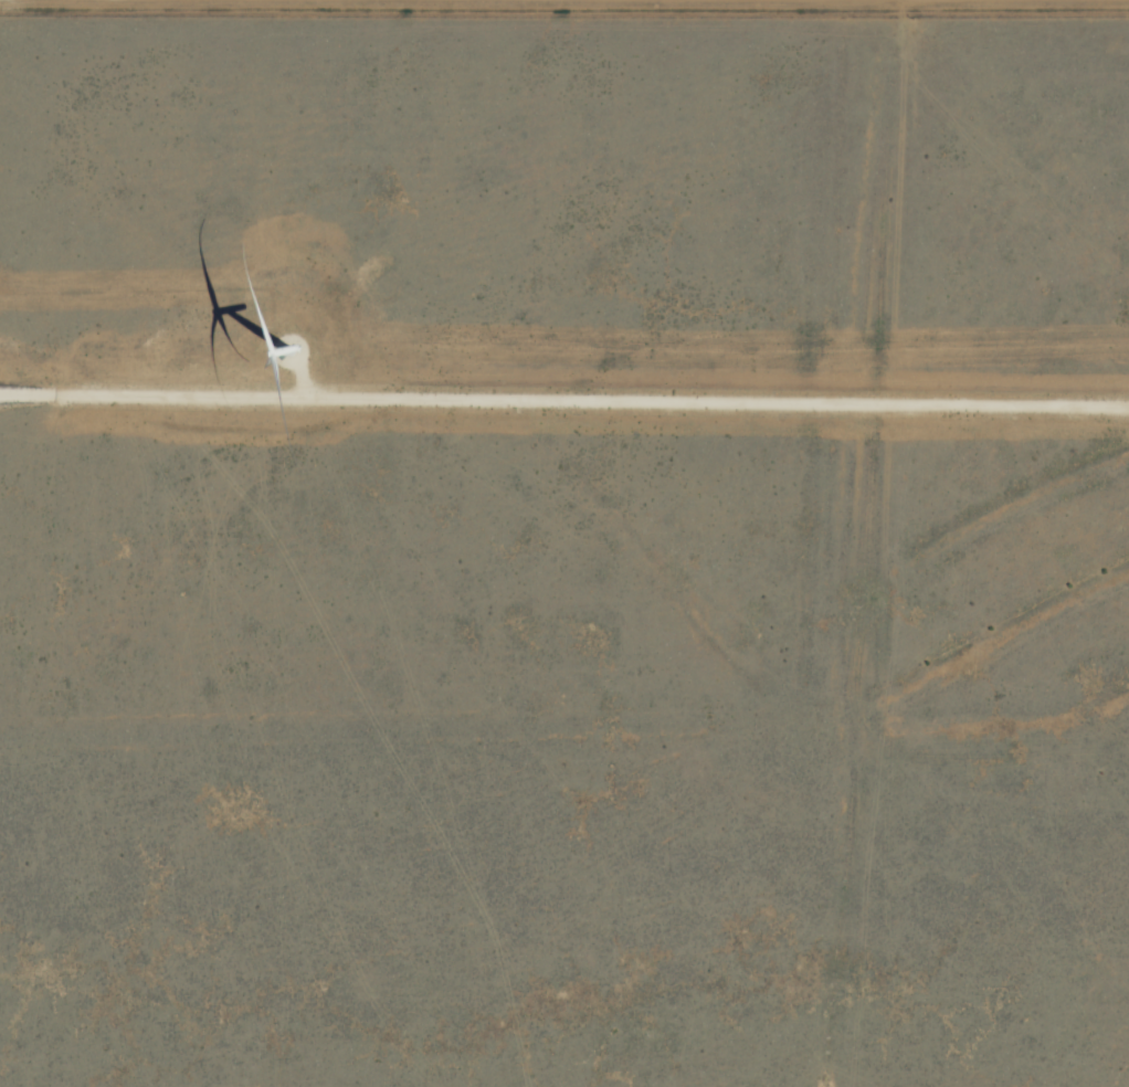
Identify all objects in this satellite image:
wind turbine: (289, 347)

